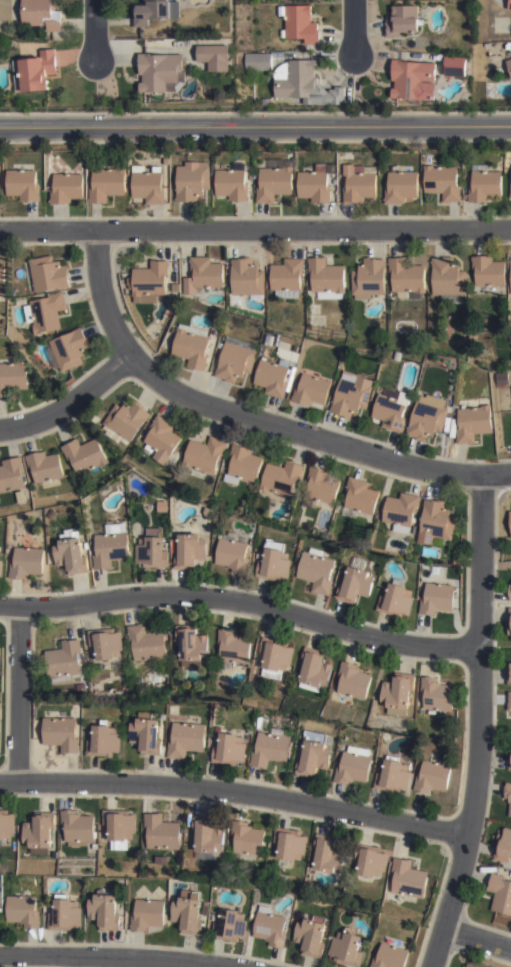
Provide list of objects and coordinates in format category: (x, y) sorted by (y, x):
building: (509, 4)
building: (149, 11)
building: (42, 14)
building: (400, 20)
building: (301, 24)
road: (353, 27)
road: (94, 31)
building: (214, 55)
building: (258, 61)
building: (508, 64)
building: (455, 65)
building: (35, 71)
building: (160, 71)
building: (409, 76)
building: (303, 82)
building: (265, 101)
road: (255, 125)
building: (165, 160)
building: (0, 176)
building: (273, 179)
building: (191, 180)
building: (231, 181)
building: (441, 181)
building: (359, 182)
building: (22, 183)
building: (106, 183)
building: (315, 183)
building: (483, 183)
building: (147, 184)
building: (399, 185)
building: (66, 187)
building: (510, 189)
building: (464, 196)
road: (255, 228)
building: (488, 271)
building: (510, 272)
building: (49, 273)
building: (203, 274)
building: (287, 274)
building: (406, 277)
building: (246, 278)
building: (368, 278)
building: (2, 279)
building: (326, 279)
building: (447, 280)
building: (149, 281)
building: (45, 312)
building: (191, 345)
building: (70, 349)
building: (288, 350)
building: (236, 359)
building: (510, 374)
building: (273, 377)
building: (13, 378)
building: (381, 388)
building: (311, 390)
building: (351, 394)
road: (70, 402)
building: (390, 409)
road: (248, 417)
building: (427, 417)
building: (126, 419)
building: (472, 423)
building: (161, 439)
building: (204, 455)
building: (84, 457)
building: (244, 463)
building: (43, 467)
building: (10, 474)
building: (281, 479)
building: (320, 487)
building: (359, 498)
building: (162, 506)
building: (401, 512)
building: (435, 522)
building: (509, 522)
building: (109, 545)
building: (188, 549)
building: (151, 550)
building: (69, 553)
building: (232, 554)
building: (25, 563)
building: (274, 563)
building: (1, 569)
building: (316, 571)
building: (356, 583)
building: (509, 593)
building: (437, 599)
building: (396, 601)
road: (241, 603)
building: (509, 622)
building: (146, 644)
building: (191, 646)
building: (105, 649)
building: (232, 649)
building: (275, 658)
building: (63, 663)
building: (314, 670)
building: (509, 674)
building: (353, 682)
building: (79, 687)
building: (398, 693)
road: (18, 694)
building: (436, 695)
building: (509, 702)
building: (259, 720)
road: (476, 723)
building: (60, 734)
building: (145, 737)
building: (247, 737)
building: (185, 741)
building: (103, 742)
building: (272, 749)
building: (228, 751)
building: (313, 755)
building: (509, 762)
building: (353, 766)
building: (393, 777)
building: (432, 778)
road: (235, 790)
building: (508, 798)
building: (6, 825)
building: (118, 827)
building: (76, 829)
building: (37, 832)
building: (160, 833)
building: (206, 839)
building: (246, 839)
building: (289, 845)
building: (503, 848)
building: (328, 856)
building: (371, 862)
building: (408, 879)
building: (500, 894)
building: (206, 909)
building: (22, 912)
building: (103, 912)
building: (64, 915)
building: (188, 916)
building: (147, 917)
building: (230, 928)
building: (270, 929)
road: (475, 939)
building: (311, 940)
building: (346, 950)
building: (391, 956)
road: (113, 957)
road: (59, 962)
building: (472, 964)

